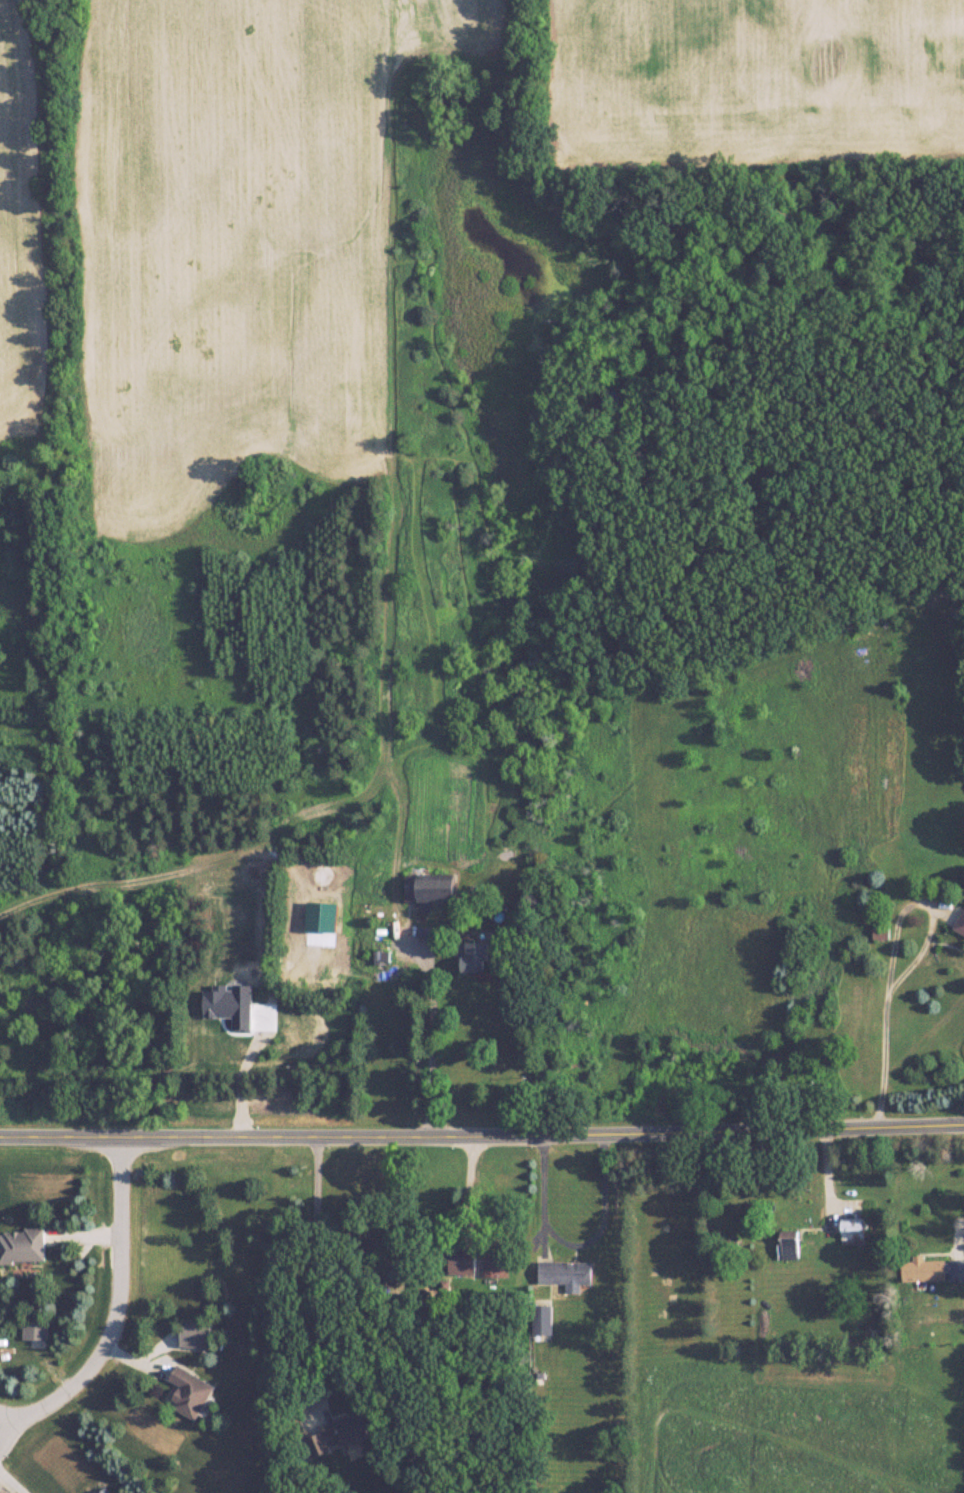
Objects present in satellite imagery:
building: (442, 890)
building: (961, 923)
building: (382, 957)
building: (476, 958)
road: (912, 965)
road: (428, 1040)
road: (482, 1138)
road: (826, 1183)
road: (471, 1190)
building: (852, 1232)
road: (961, 1241)
building: (22, 1245)
building: (787, 1245)
road: (574, 1247)
building: (462, 1260)
building: (495, 1261)
road: (313, 1263)
building: (933, 1269)
building: (567, 1273)
road: (116, 1308)
building: (543, 1319)
building: (35, 1329)
building: (190, 1391)
building: (342, 1431)
road: (11, 1482)
building: (105, 1490)

